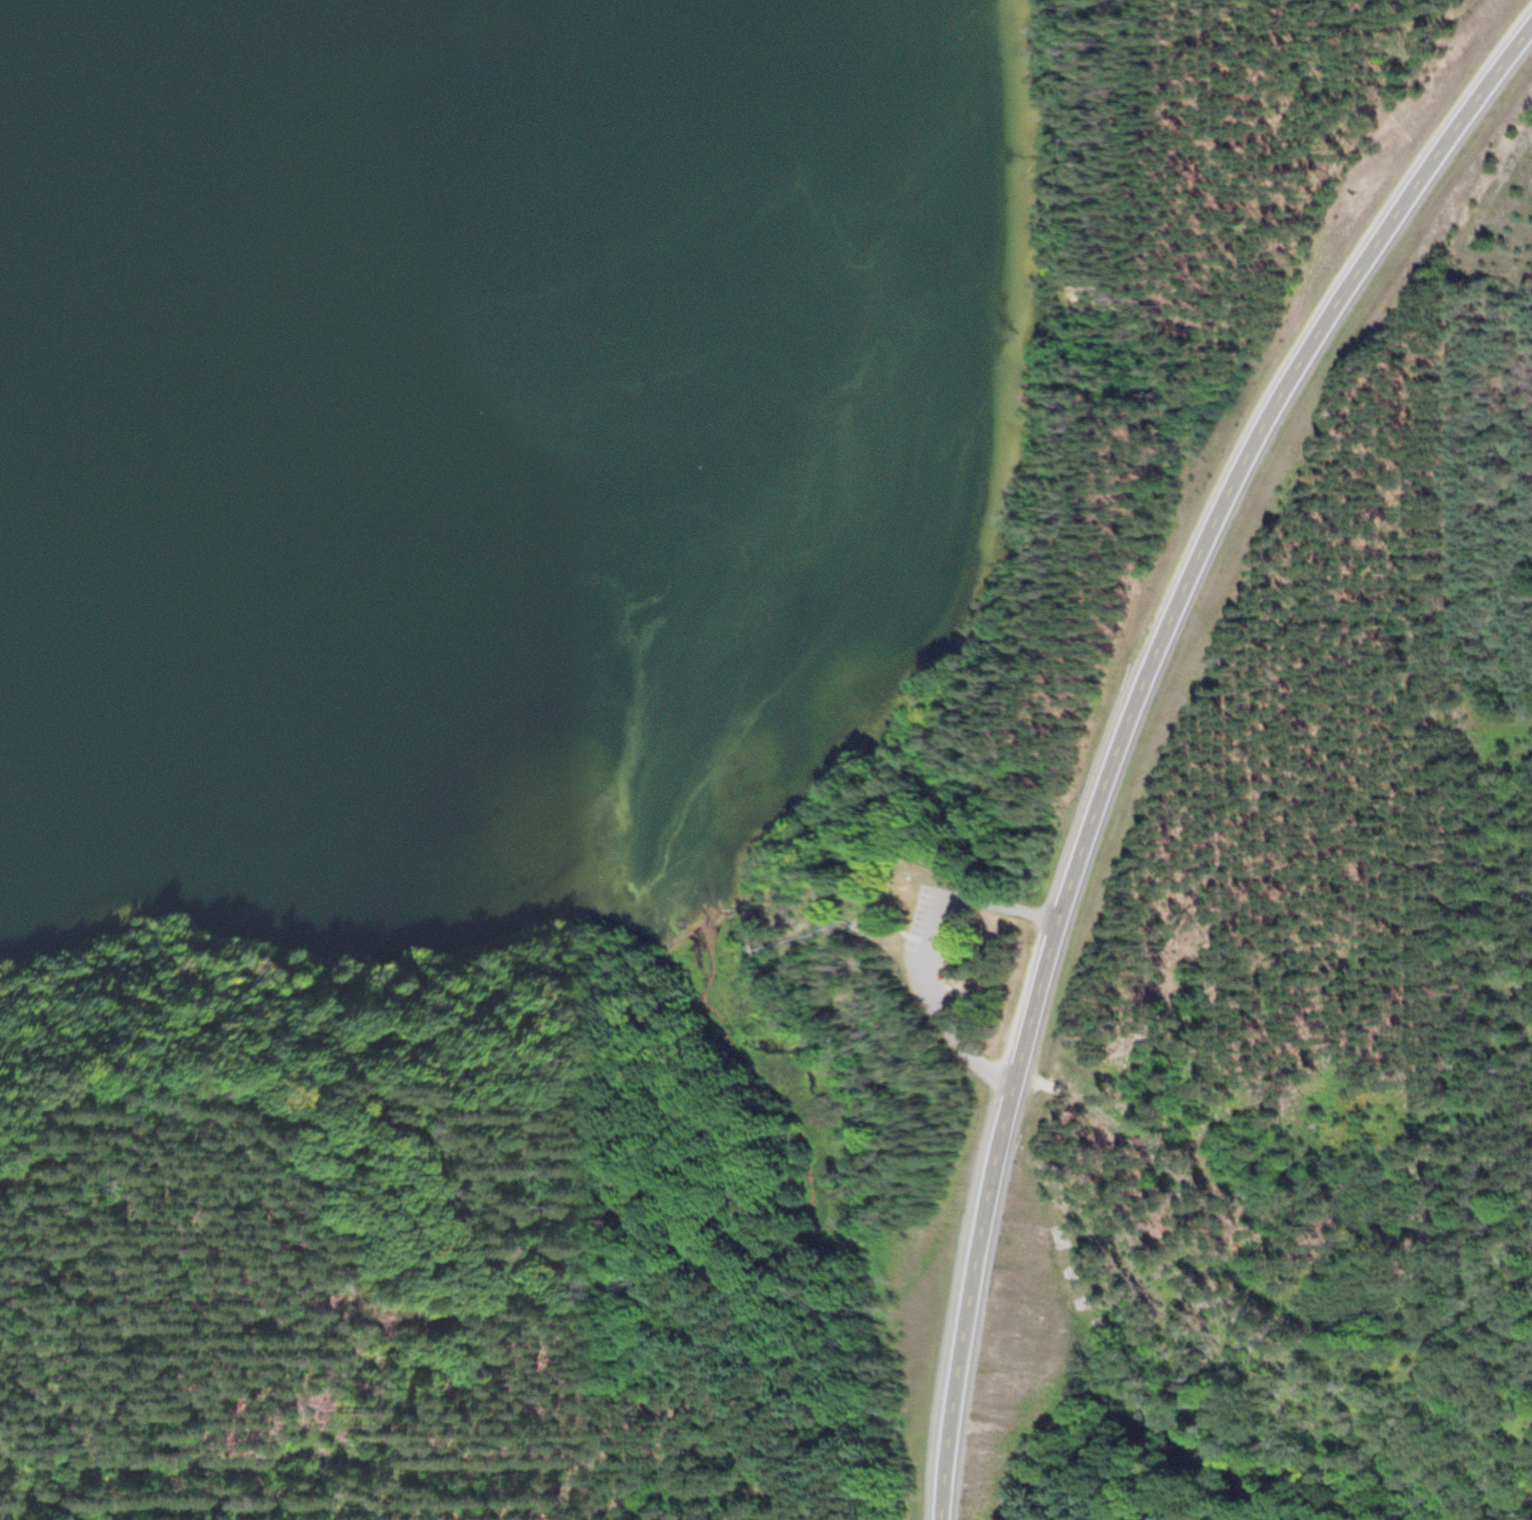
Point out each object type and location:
road: (1122, 724)
parking lot: (932, 924)
road: (750, 925)
park: (896, 948)
road: (925, 954)
road: (281, 1310)

